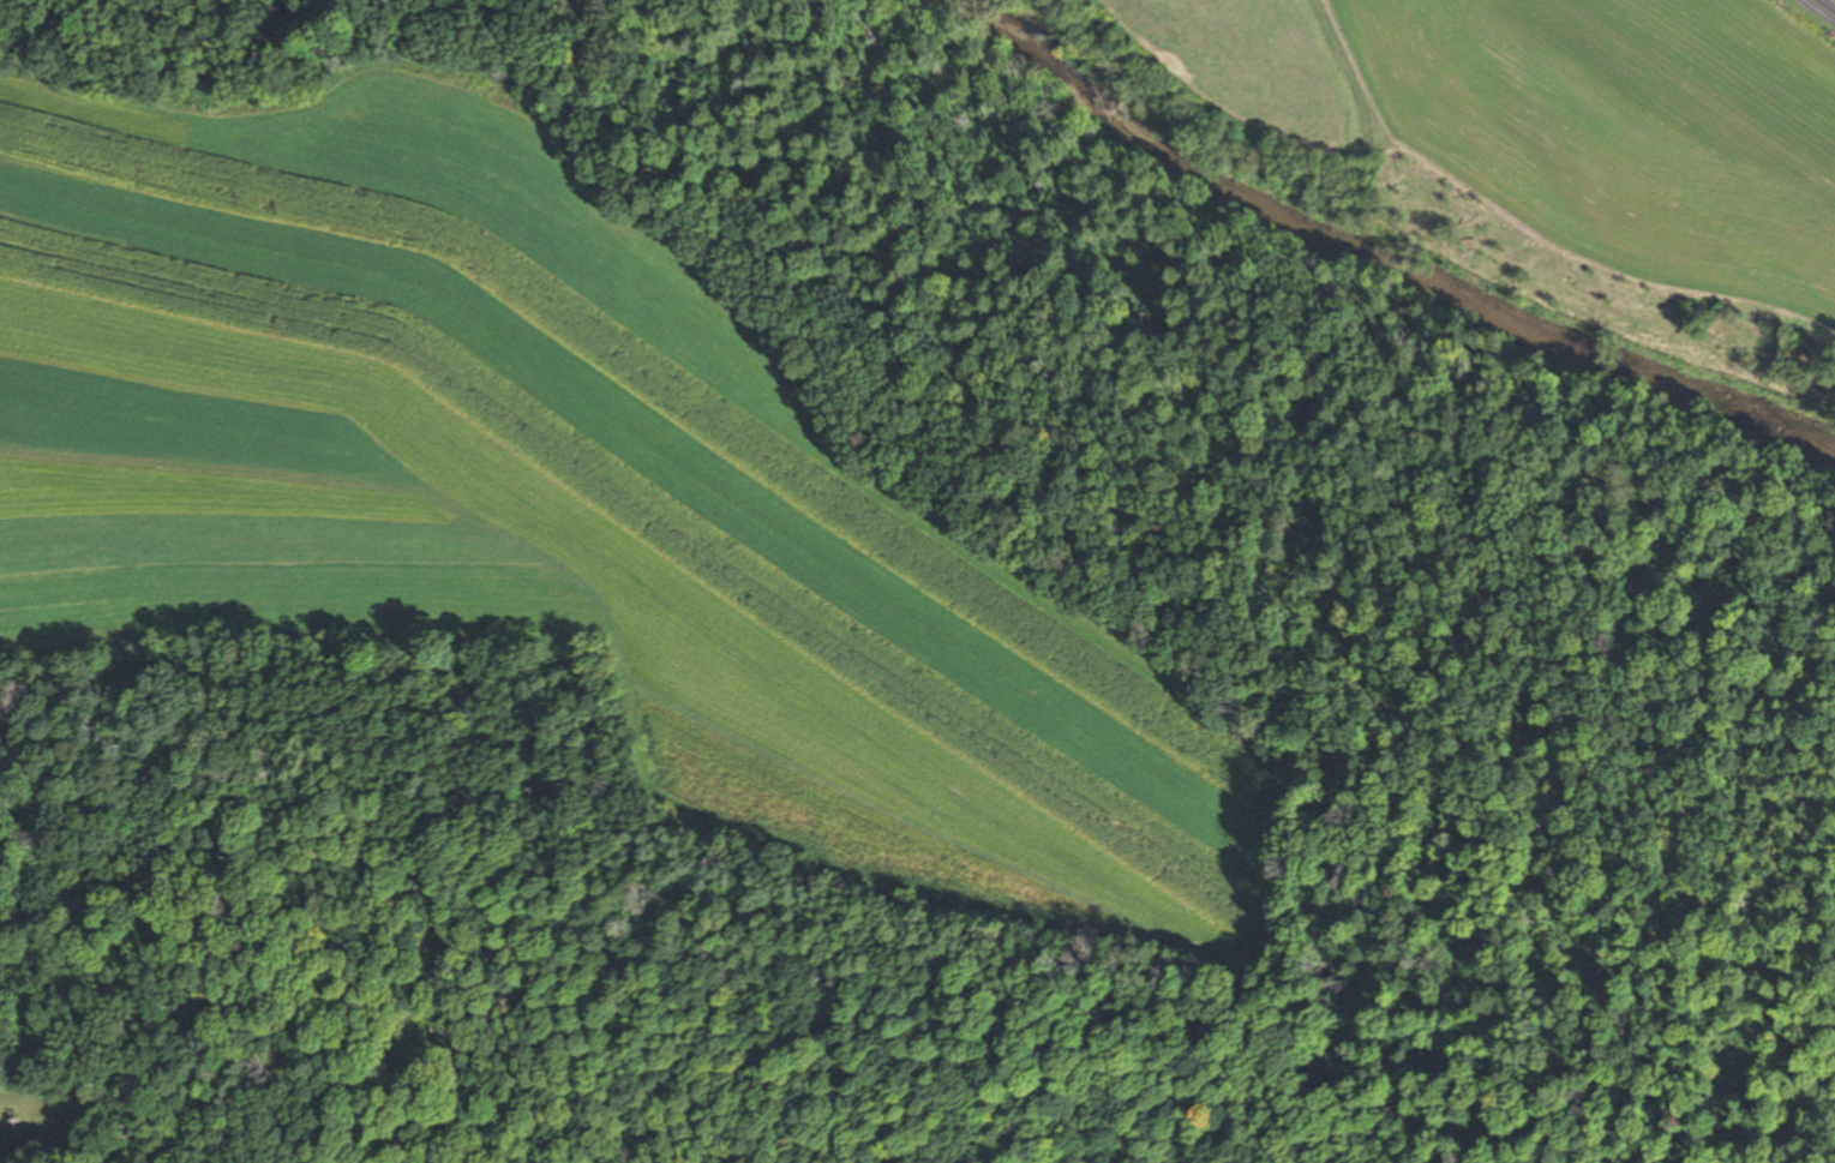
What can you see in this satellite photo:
road: (1822, 8)
river: (1393, 253)

